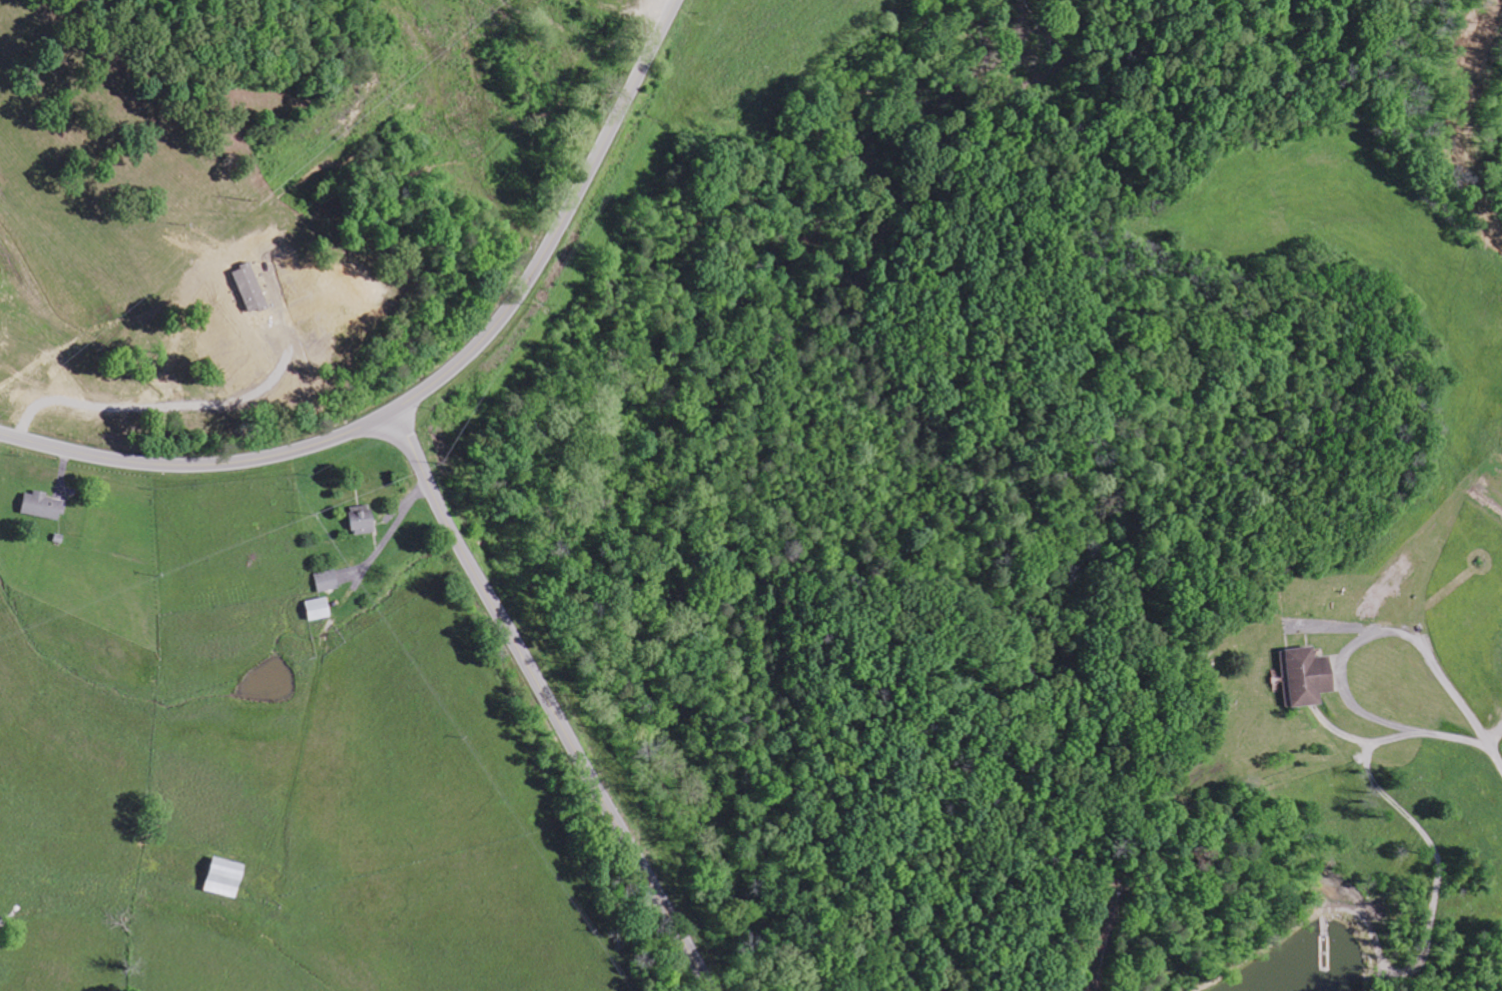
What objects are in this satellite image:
road: (435, 382)
building: (45, 505)
building: (365, 519)
building: (329, 580)
building: (323, 608)
building: (1300, 676)
road: (550, 703)
building: (230, 878)

